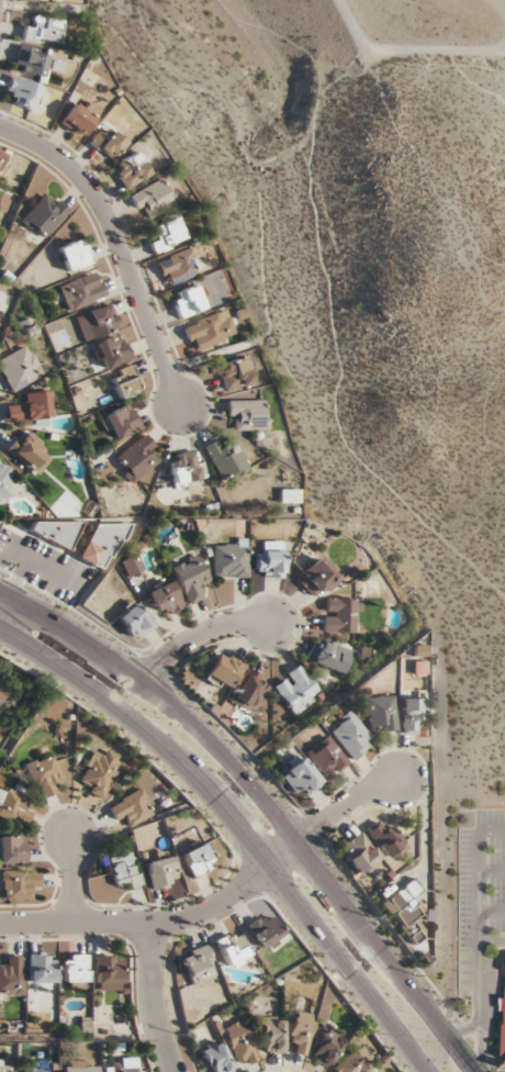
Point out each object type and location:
building: (42, 29)
dam: (349, 29)
road: (440, 52)
building: (35, 63)
building: (20, 92)
building: (78, 118)
building: (106, 143)
building: (0, 153)
building: (130, 169)
building: (151, 198)
building: (42, 215)
building: (167, 234)
road: (117, 244)
building: (72, 255)
building: (176, 267)
building: (80, 290)
building: (186, 301)
park: (368, 303)
building: (94, 322)
building: (207, 331)
building: (111, 350)
building: (16, 368)
building: (234, 372)
building: (123, 382)
building: (33, 405)
building: (247, 413)
building: (117, 422)
building: (29, 451)
building: (136, 458)
building: (224, 458)
building: (182, 467)
building: (3, 481)
building: (290, 495)
building: (50, 532)
building: (228, 558)
building: (268, 560)
building: (130, 563)
road: (46, 567)
road: (16, 576)
building: (316, 577)
building: (189, 578)
building: (164, 598)
road: (3, 602)
building: (340, 615)
building: (133, 621)
road: (200, 632)
building: (327, 655)
building: (222, 670)
building: (295, 689)
building: (247, 690)
building: (2, 692)
building: (379, 713)
building: (409, 713)
building: (348, 735)
building: (325, 757)
building: (98, 772)
building: (43, 773)
building: (299, 775)
road: (277, 789)
road: (263, 803)
building: (12, 807)
building: (131, 807)
road: (235, 826)
road: (491, 829)
building: (384, 838)
road: (221, 840)
building: (10, 849)
building: (358, 852)
building: (195, 860)
building: (123, 869)
road: (491, 870)
building: (159, 872)
road: (72, 878)
building: (16, 883)
parking lot: (478, 894)
road: (220, 901)
building: (402, 904)
road: (491, 911)
road: (478, 924)
building: (261, 929)
building: (412, 935)
road: (491, 941)
building: (229, 948)
building: (197, 964)
building: (40, 968)
building: (72, 971)
building: (105, 972)
building: (11, 975)
road: (158, 998)
building: (504, 1004)
road: (461, 1028)
building: (300, 1030)
building: (270, 1035)
building: (237, 1043)
building: (327, 1046)
road: (479, 1046)
building: (214, 1058)
building: (351, 1061)
building: (4, 1065)
building: (78, 1065)
building: (119, 1065)
building: (35, 1068)
building: (370, 1071)

